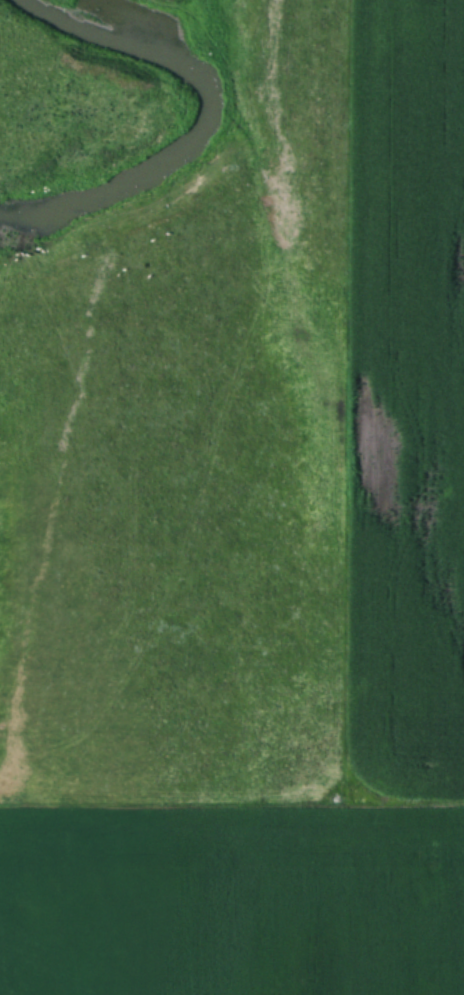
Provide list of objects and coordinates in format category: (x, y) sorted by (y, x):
crop: (232, 903)

